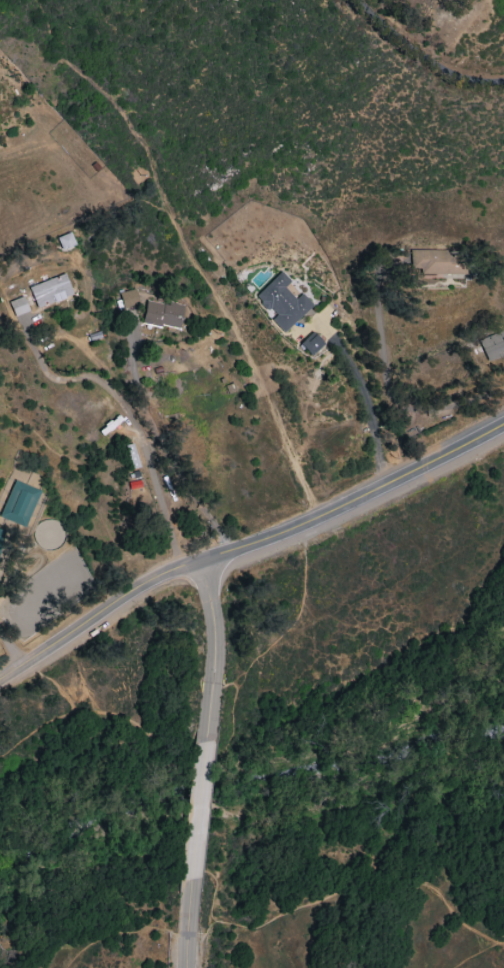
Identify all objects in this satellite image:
road: (429, 53)
building: (65, 241)
building: (437, 263)
building: (49, 291)
building: (128, 298)
building: (282, 302)
building: (17, 306)
building: (162, 314)
building: (310, 344)
building: (492, 346)
road: (135, 367)
road: (368, 397)
road: (389, 398)
road: (128, 422)
building: (18, 503)
building: (0, 535)
road: (247, 545)
road: (10, 650)
road: (213, 651)
road: (245, 669)
road: (73, 714)
road: (195, 812)
road: (186, 924)
road: (251, 926)
road: (476, 952)

